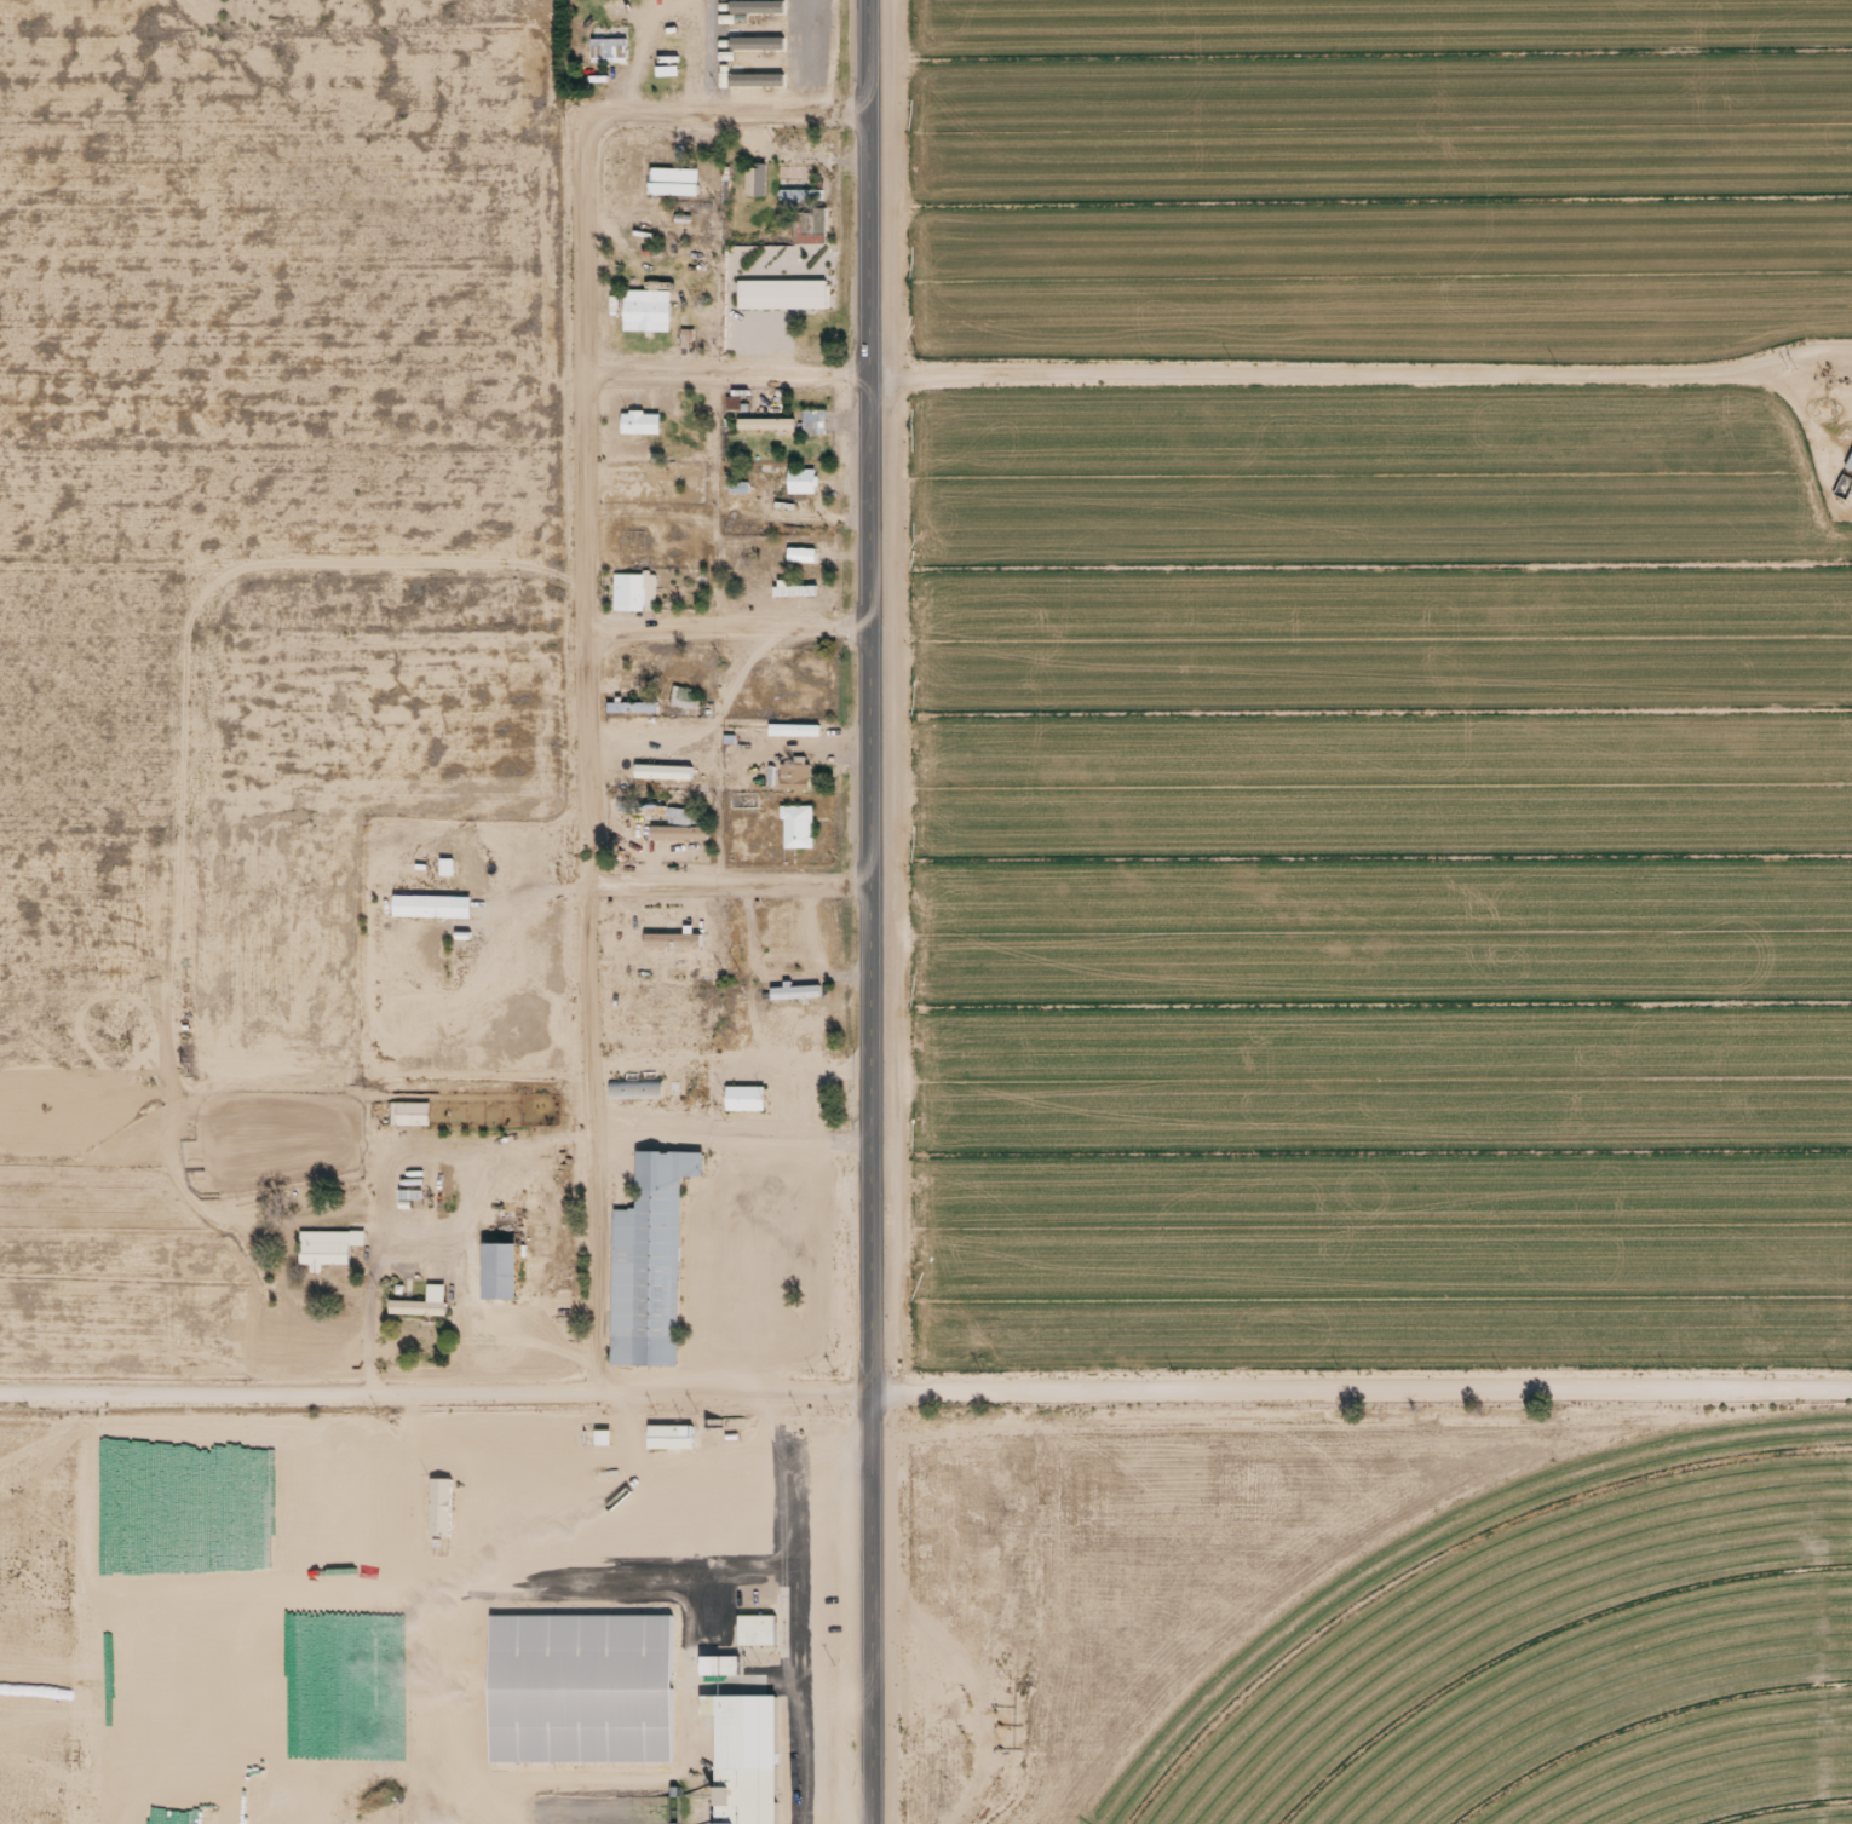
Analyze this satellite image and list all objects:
building: (755, 4)
building: (757, 34)
building: (606, 50)
building: (754, 69)
road: (714, 111)
building: (673, 174)
building: (753, 179)
building: (805, 212)
building: (781, 280)
building: (646, 303)
road: (1359, 370)
road: (724, 372)
building: (639, 414)
building: (812, 421)
building: (1847, 453)
building: (799, 481)
building: (799, 554)
building: (634, 582)
road: (725, 631)
road: (867, 695)
building: (680, 696)
building: (632, 700)
road: (587, 770)
building: (662, 771)
building: (793, 775)
building: (639, 807)
building: (683, 815)
building: (798, 819)
building: (445, 867)
road: (729, 884)
building: (420, 905)
building: (669, 946)
building: (795, 985)
building: (633, 1088)
building: (743, 1098)
building: (413, 1106)
road: (731, 1141)
building: (408, 1193)
building: (807, 1213)
building: (328, 1239)
building: (652, 1249)
building: (496, 1258)
building: (420, 1295)
road: (1362, 1380)
road: (300, 1389)
road: (736, 1391)
building: (668, 1438)
building: (441, 1498)
road: (873, 1606)
building: (753, 1621)
building: (432, 1636)
building: (717, 1665)
crop: (1564, 1667)
building: (579, 1679)
building: (742, 1751)

